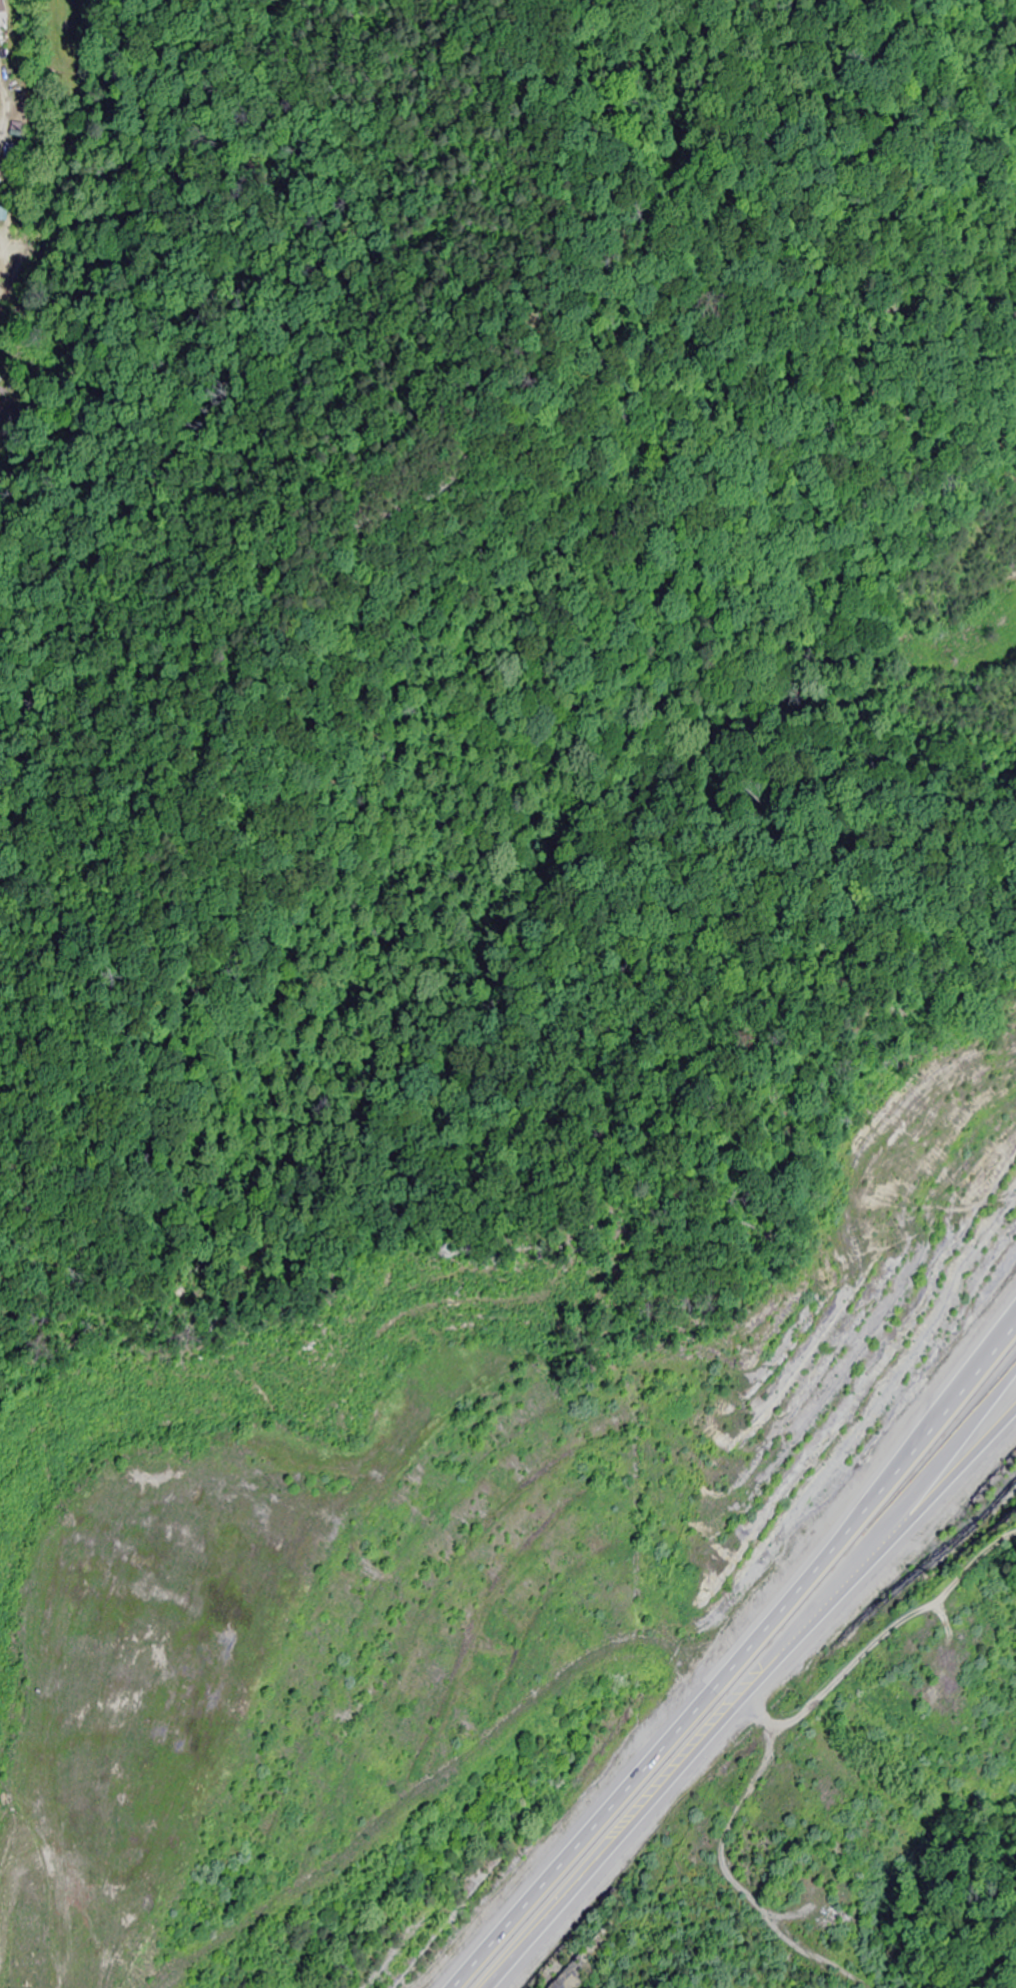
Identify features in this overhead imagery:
building: (10, 151)
road: (983, 1393)
road: (740, 1665)

